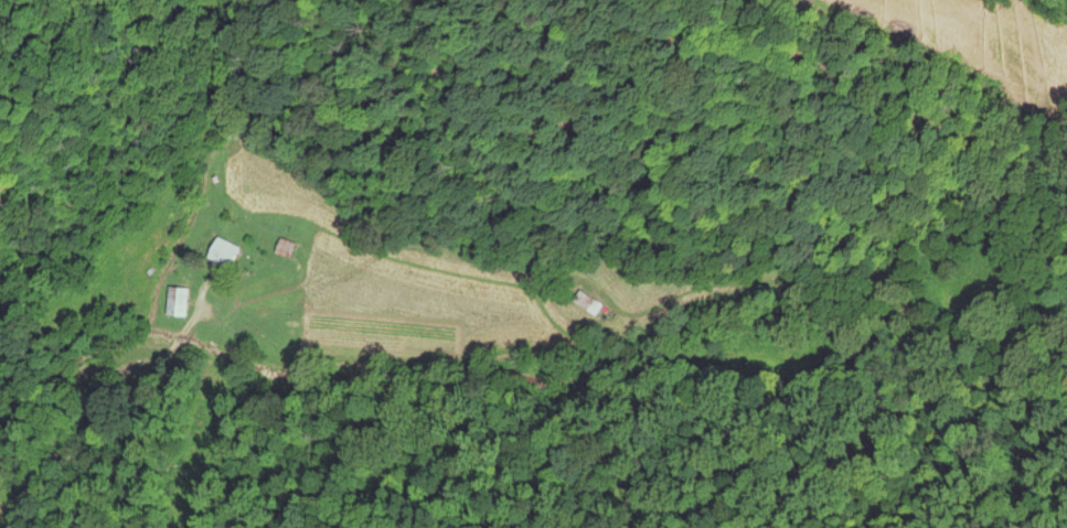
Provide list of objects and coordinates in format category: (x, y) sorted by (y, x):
building: (294, 251)
building: (231, 255)
building: (184, 304)
building: (595, 305)

